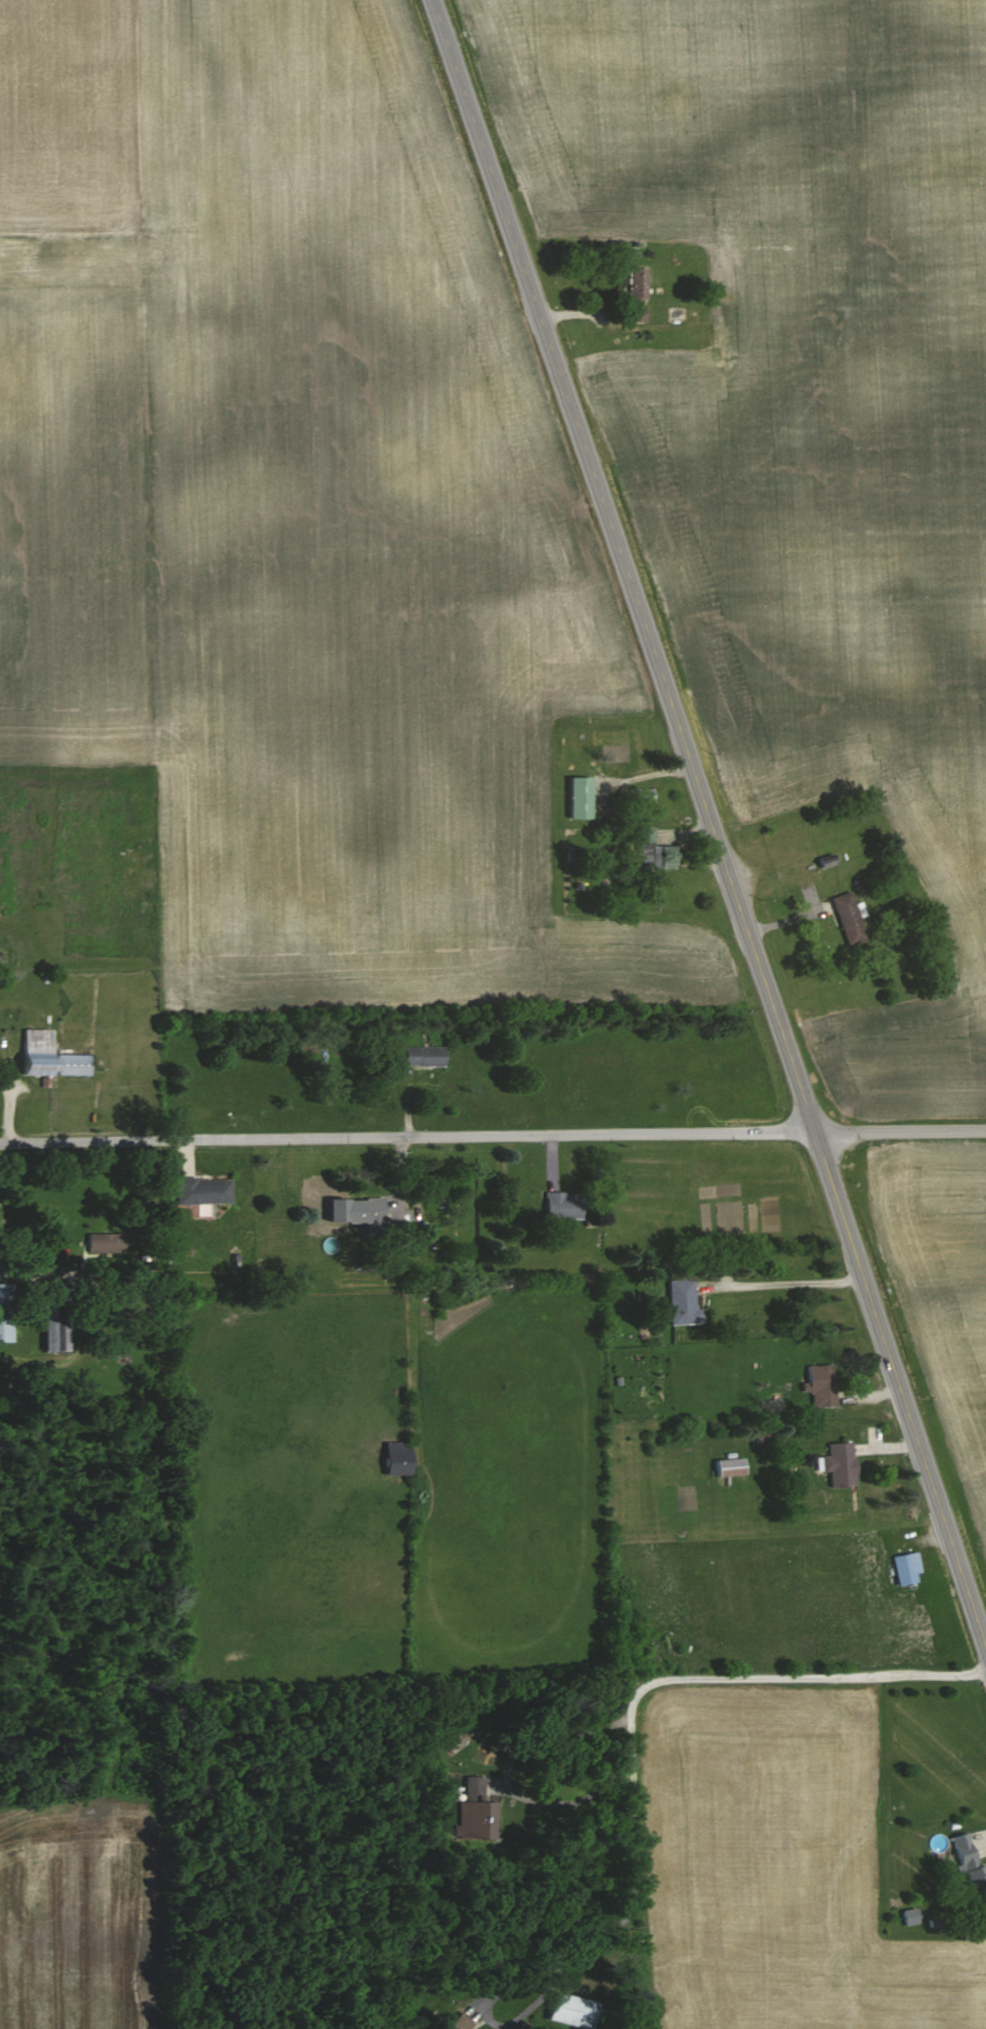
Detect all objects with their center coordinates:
building: (635, 293)
building: (707, 337)
building: (640, 794)
building: (577, 796)
road: (710, 824)
building: (650, 850)
building: (847, 918)
building: (86, 984)
building: (34, 1051)
building: (421, 1055)
building: (70, 1064)
road: (492, 1136)
building: (201, 1190)
building: (561, 1205)
building: (363, 1213)
road: (785, 1271)
road: (31, 1275)
building: (678, 1302)
building: (4, 1312)
building: (51, 1316)
building: (819, 1384)
building: (394, 1458)
building: (837, 1464)
building: (727, 1467)
building: (904, 1563)
road: (657, 1677)
road: (506, 1775)
building: (474, 1812)
building: (968, 1864)
building: (907, 1916)
building: (569, 2011)
road: (487, 2017)
building: (456, 2022)

